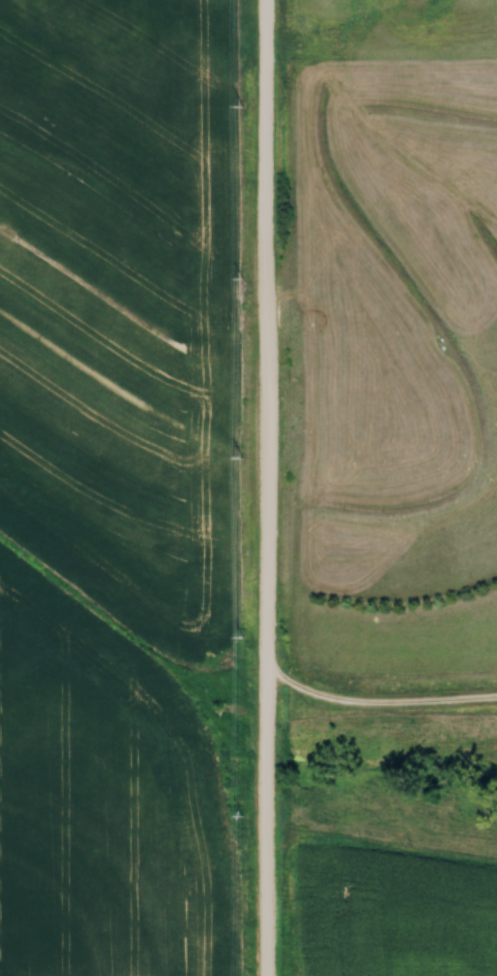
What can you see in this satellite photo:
road: (264, 488)
road: (375, 704)

